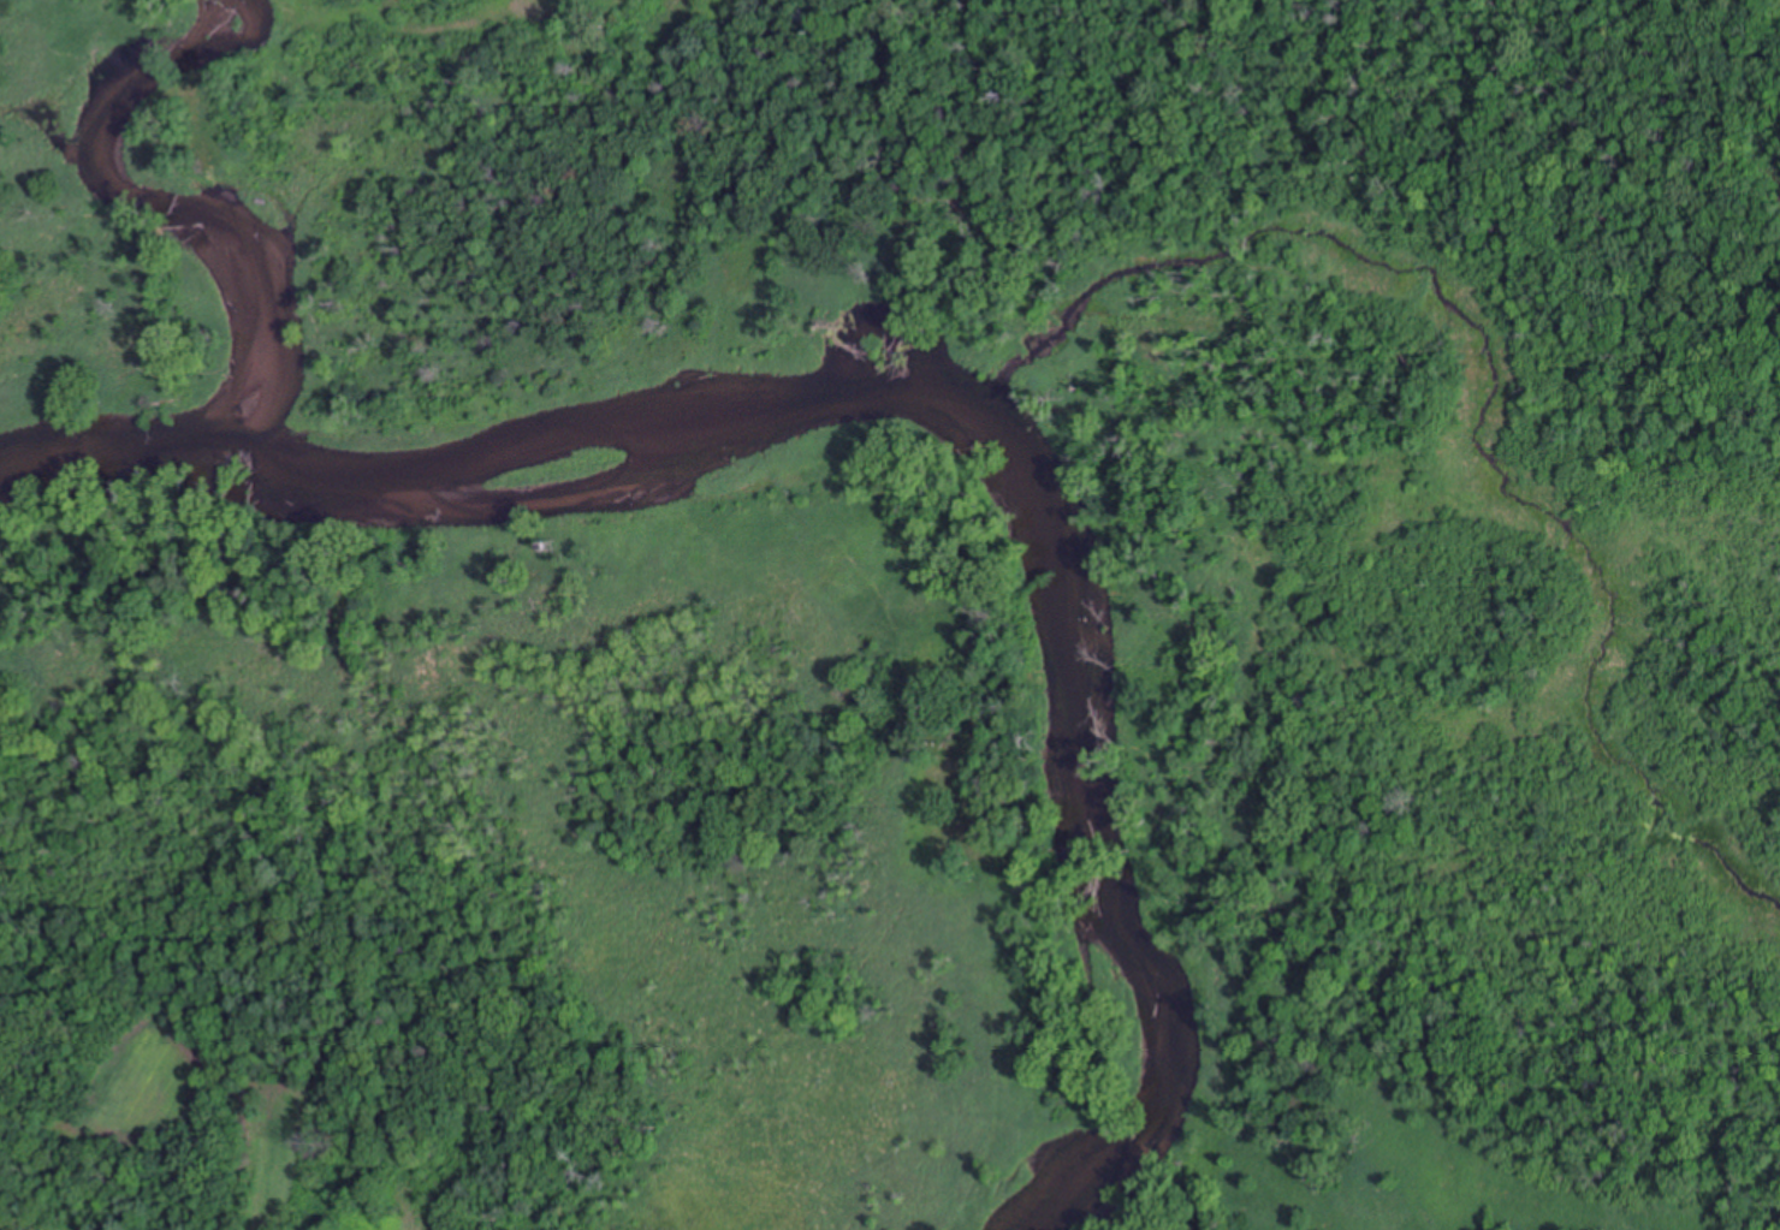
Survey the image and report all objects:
river: (616, 427)
river: (127, 462)
river: (1096, 844)

